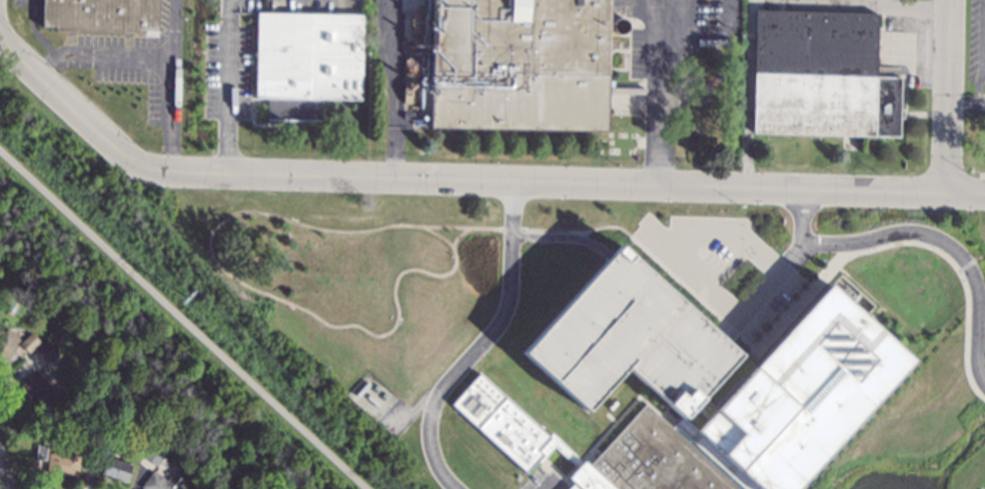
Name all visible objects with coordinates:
road: (235, 5)
building: (102, 15)
road: (645, 25)
road: (717, 36)
road: (980, 52)
road: (103, 55)
road: (395, 61)
building: (307, 62)
building: (520, 64)
building: (821, 76)
road: (174, 87)
road: (232, 94)
road: (948, 96)
road: (963, 103)
road: (981, 105)
road: (662, 111)
road: (395, 151)
road: (445, 181)
road: (966, 193)
road: (684, 237)
road: (947, 246)
road: (787, 265)
power tower: (184, 302)
road: (183, 319)
building: (7, 342)
building: (30, 343)
road: (486, 343)
building: (42, 354)
building: (696, 387)
building: (40, 389)
building: (212, 452)
building: (154, 453)
building: (57, 461)
building: (107, 467)
road: (2, 479)
building: (164, 482)

